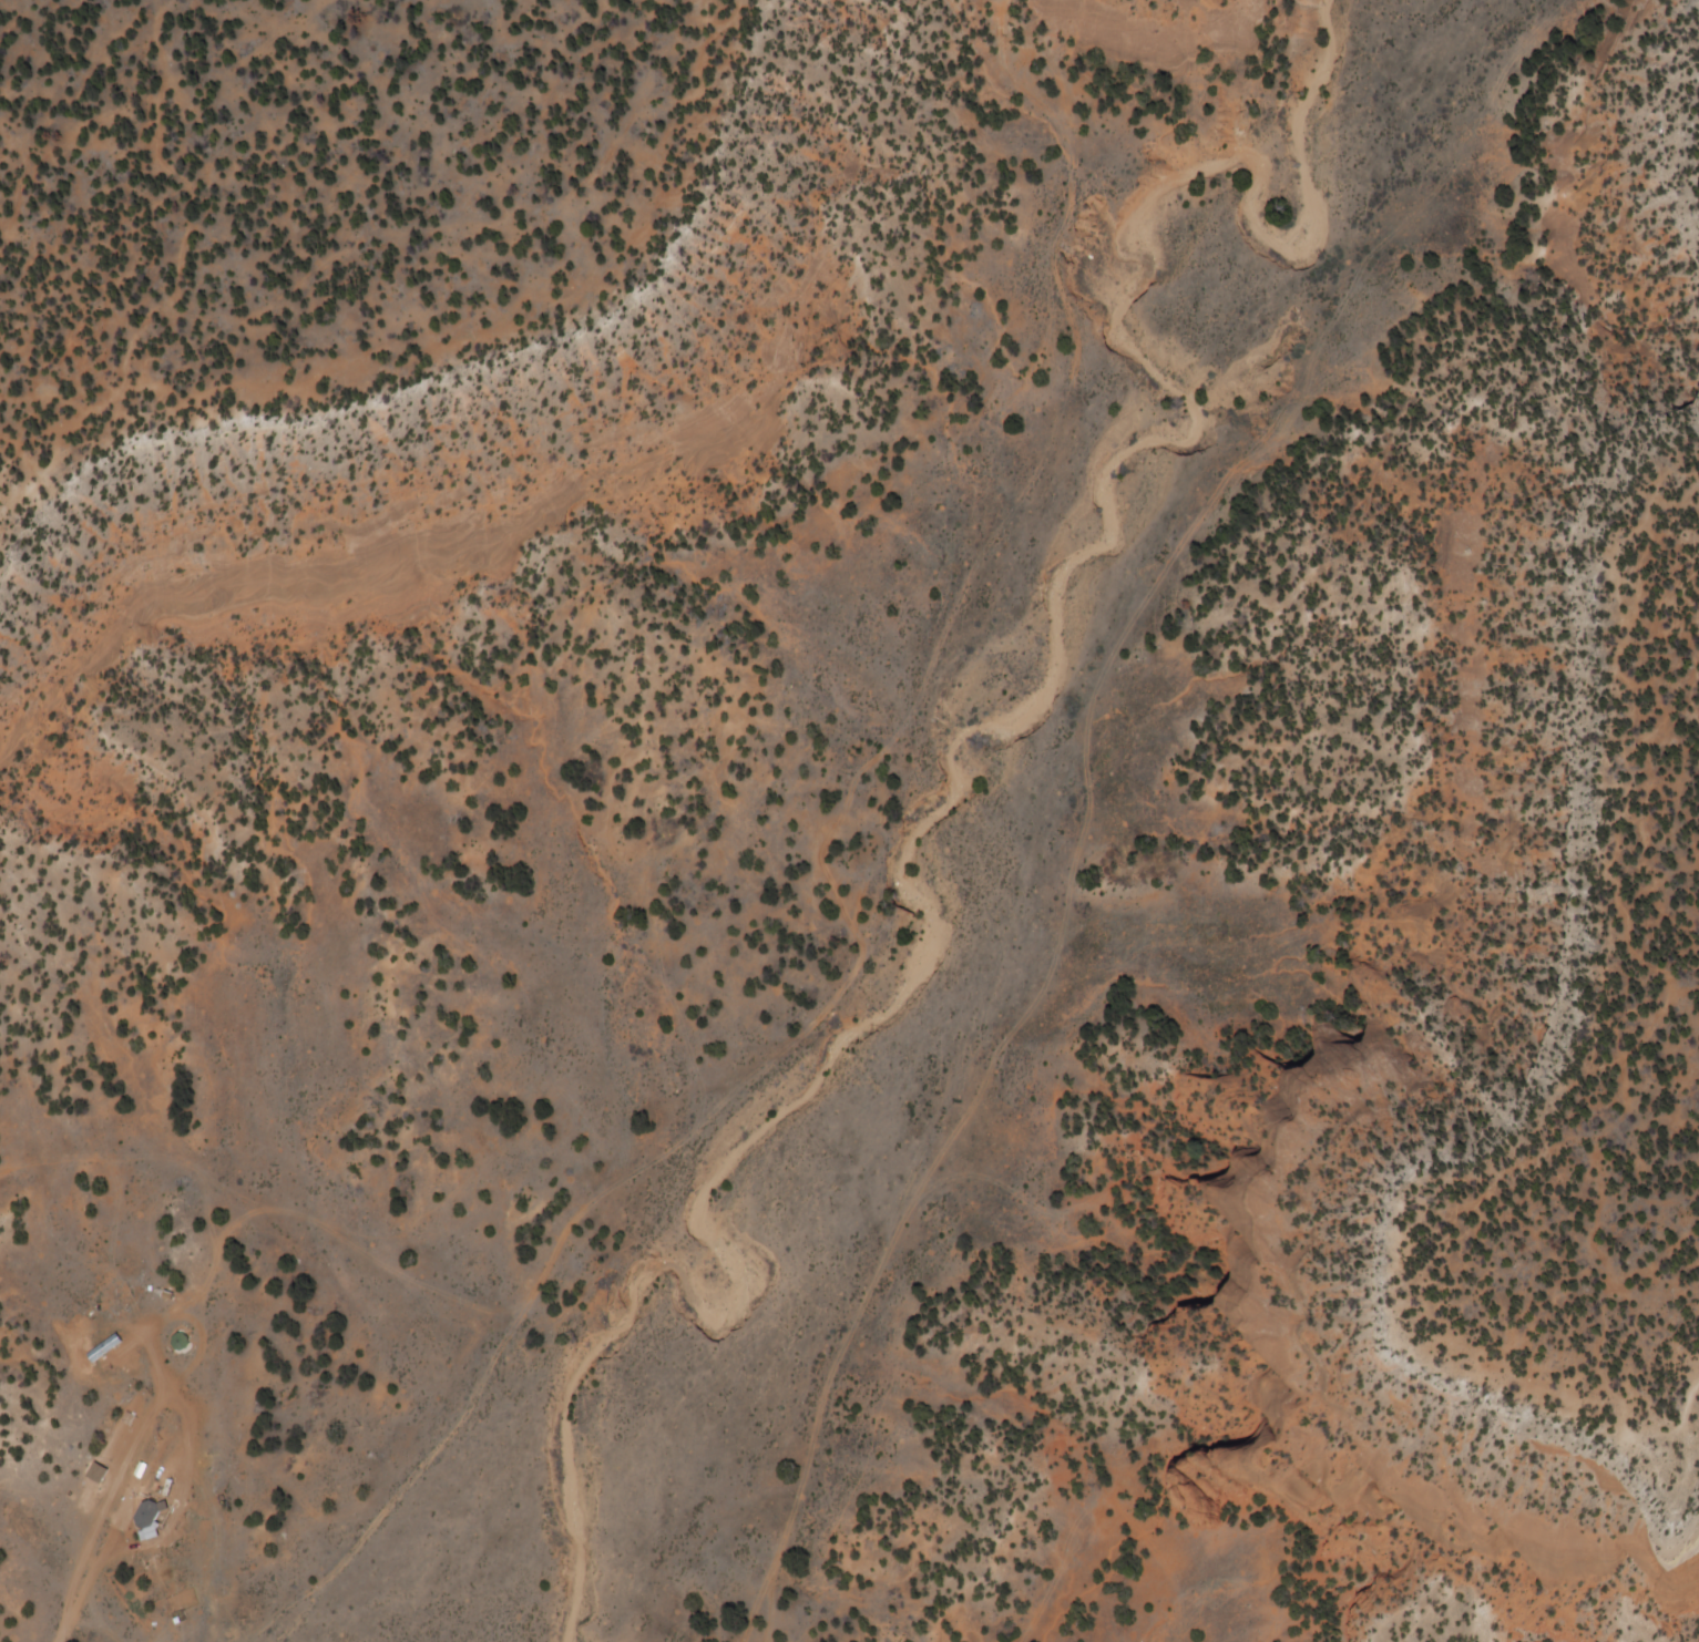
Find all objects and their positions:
road: (811, 882)

